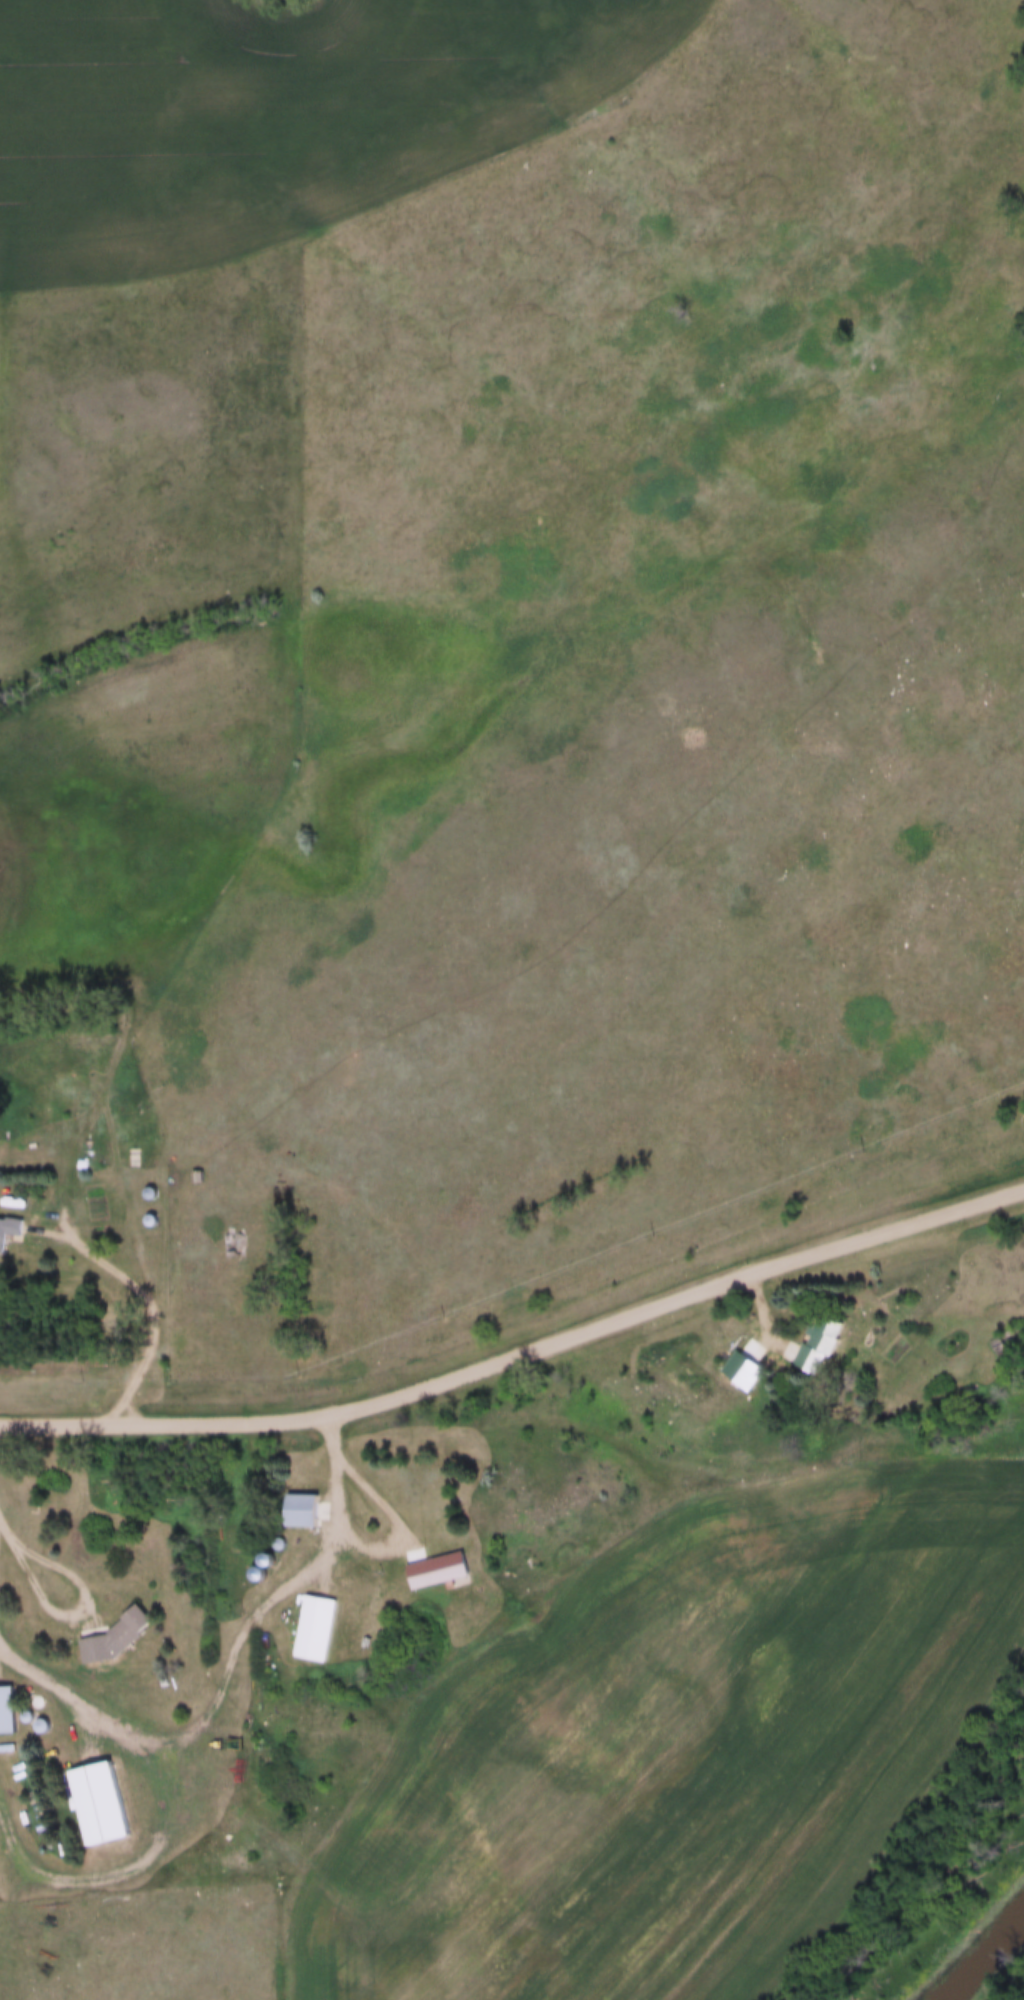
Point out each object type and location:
road: (155, 984)
building: (197, 1177)
building: (10, 1230)
building: (230, 1245)
road: (149, 1309)
building: (820, 1344)
building: (1003, 1344)
road: (519, 1354)
building: (305, 1510)
road: (401, 1540)
building: (440, 1571)
building: (318, 1627)
building: (9, 1710)
building: (104, 1800)
river: (984, 1957)

